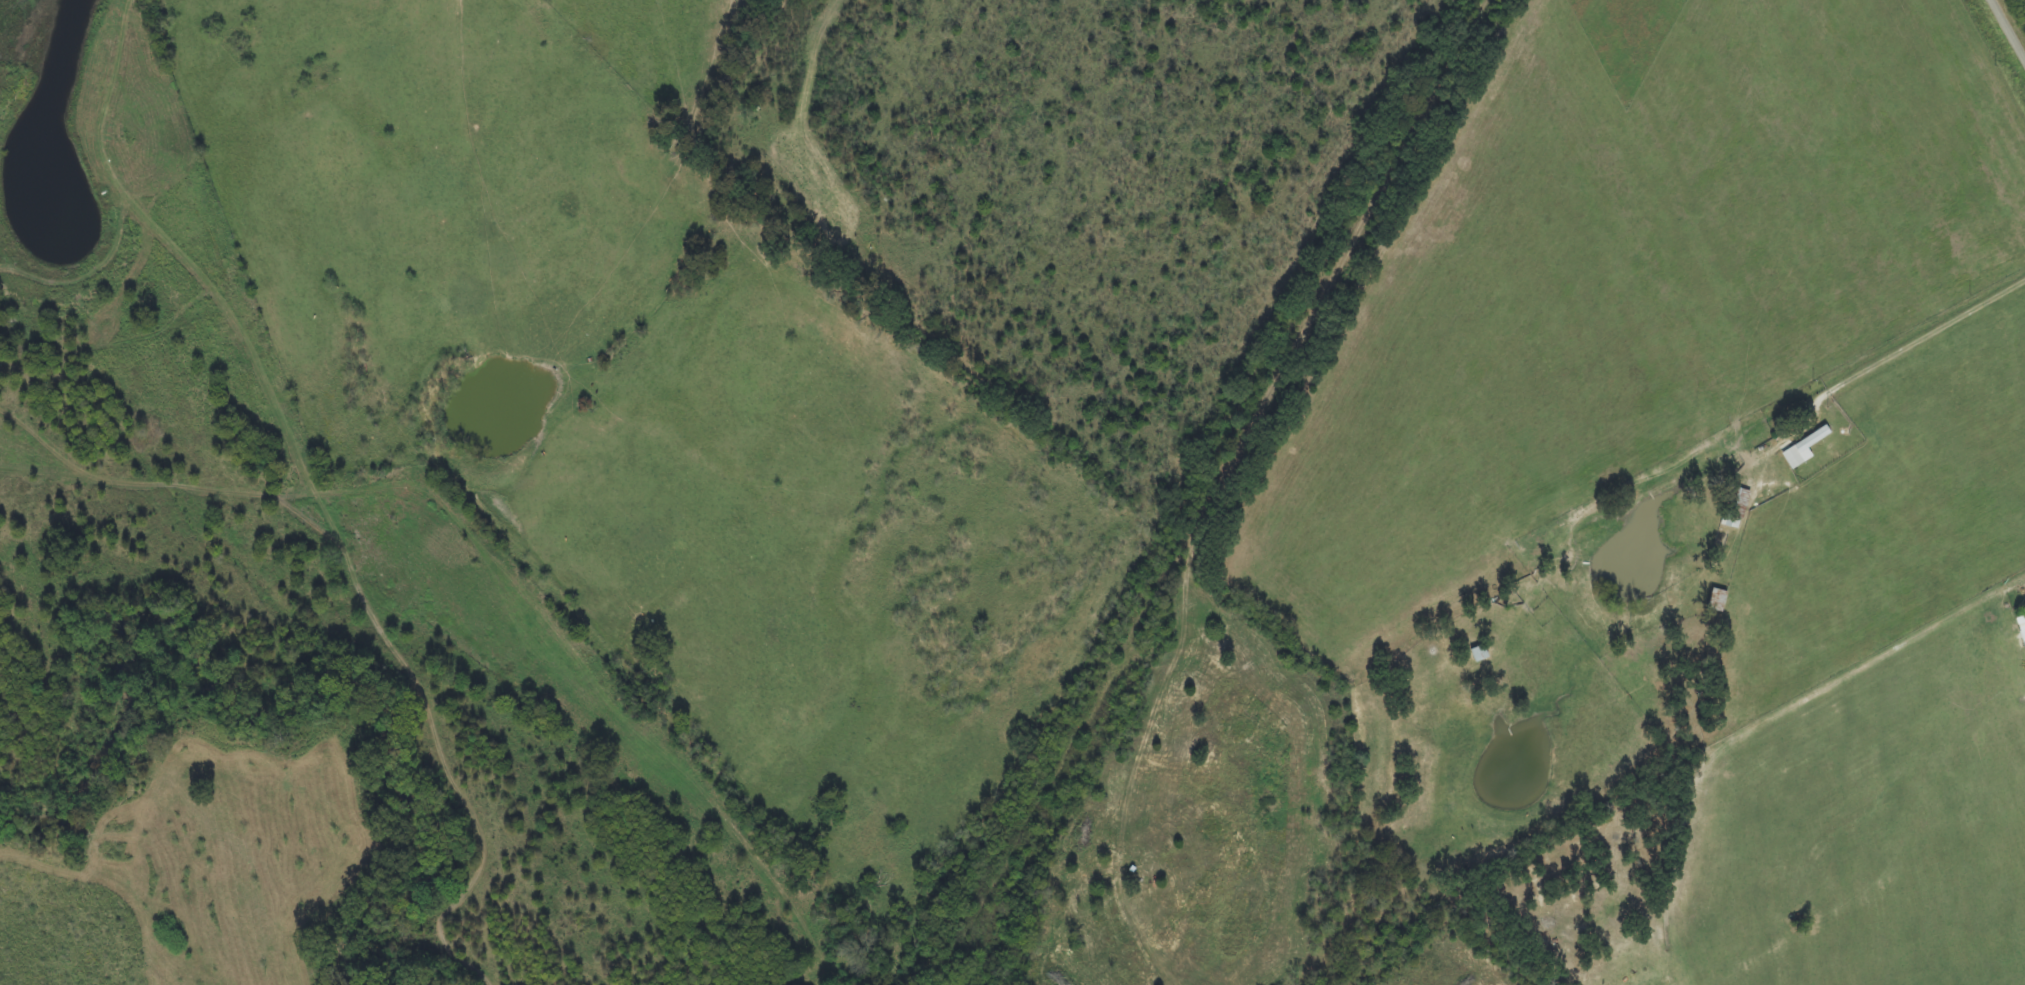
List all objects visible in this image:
road: (2012, 23)
building: (1804, 450)
railway: (1216, 493)
building: (1735, 508)
building: (2021, 627)
building: (2024, 647)

